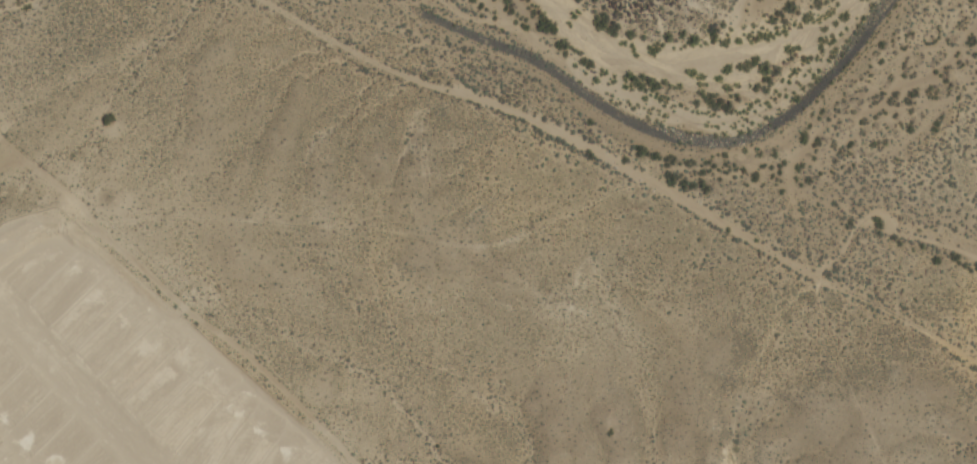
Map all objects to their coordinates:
road: (76, 386)

